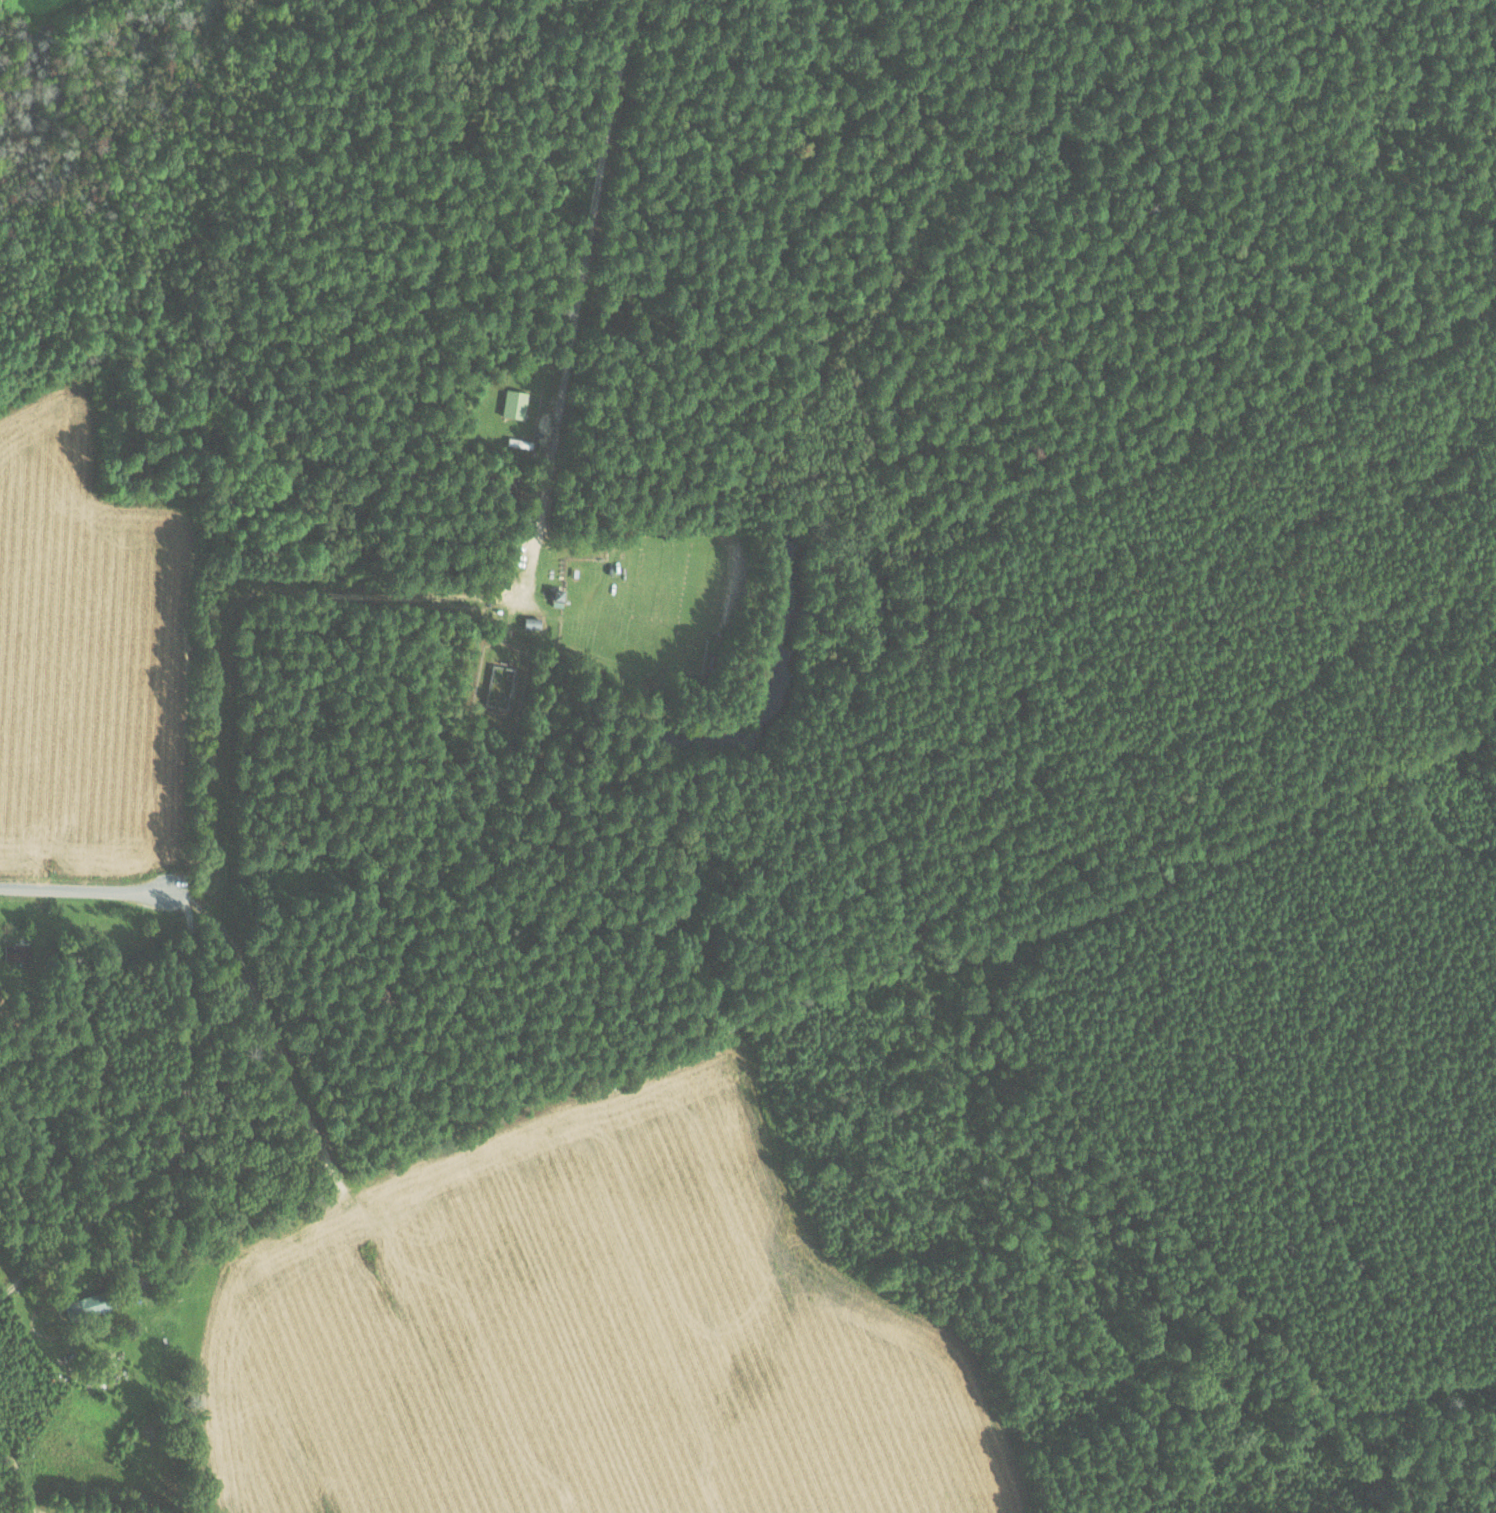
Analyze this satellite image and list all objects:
road: (611, 92)
building: (515, 404)
road: (424, 597)
building: (534, 623)
building: (18, 951)
road: (185, 1051)
building: (90, 1306)
road: (20, 1476)

